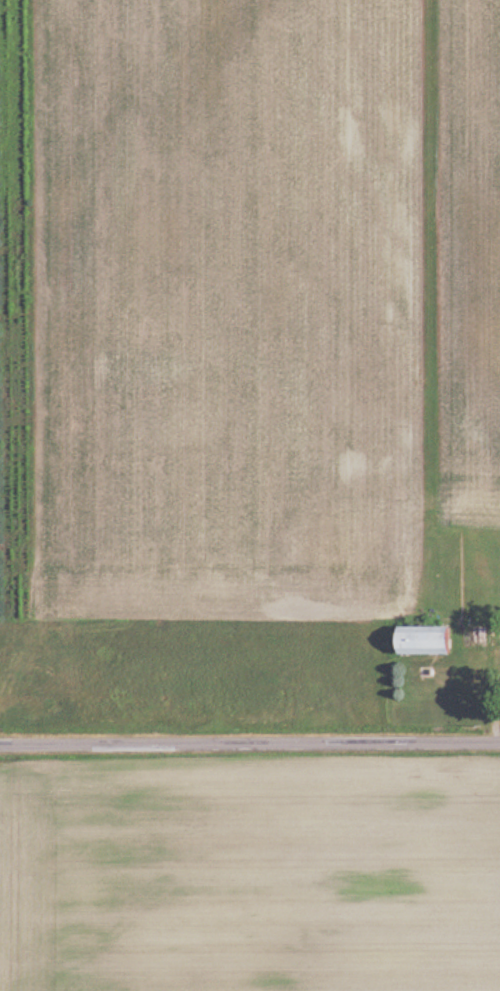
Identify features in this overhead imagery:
building: (430, 641)
road: (250, 749)

